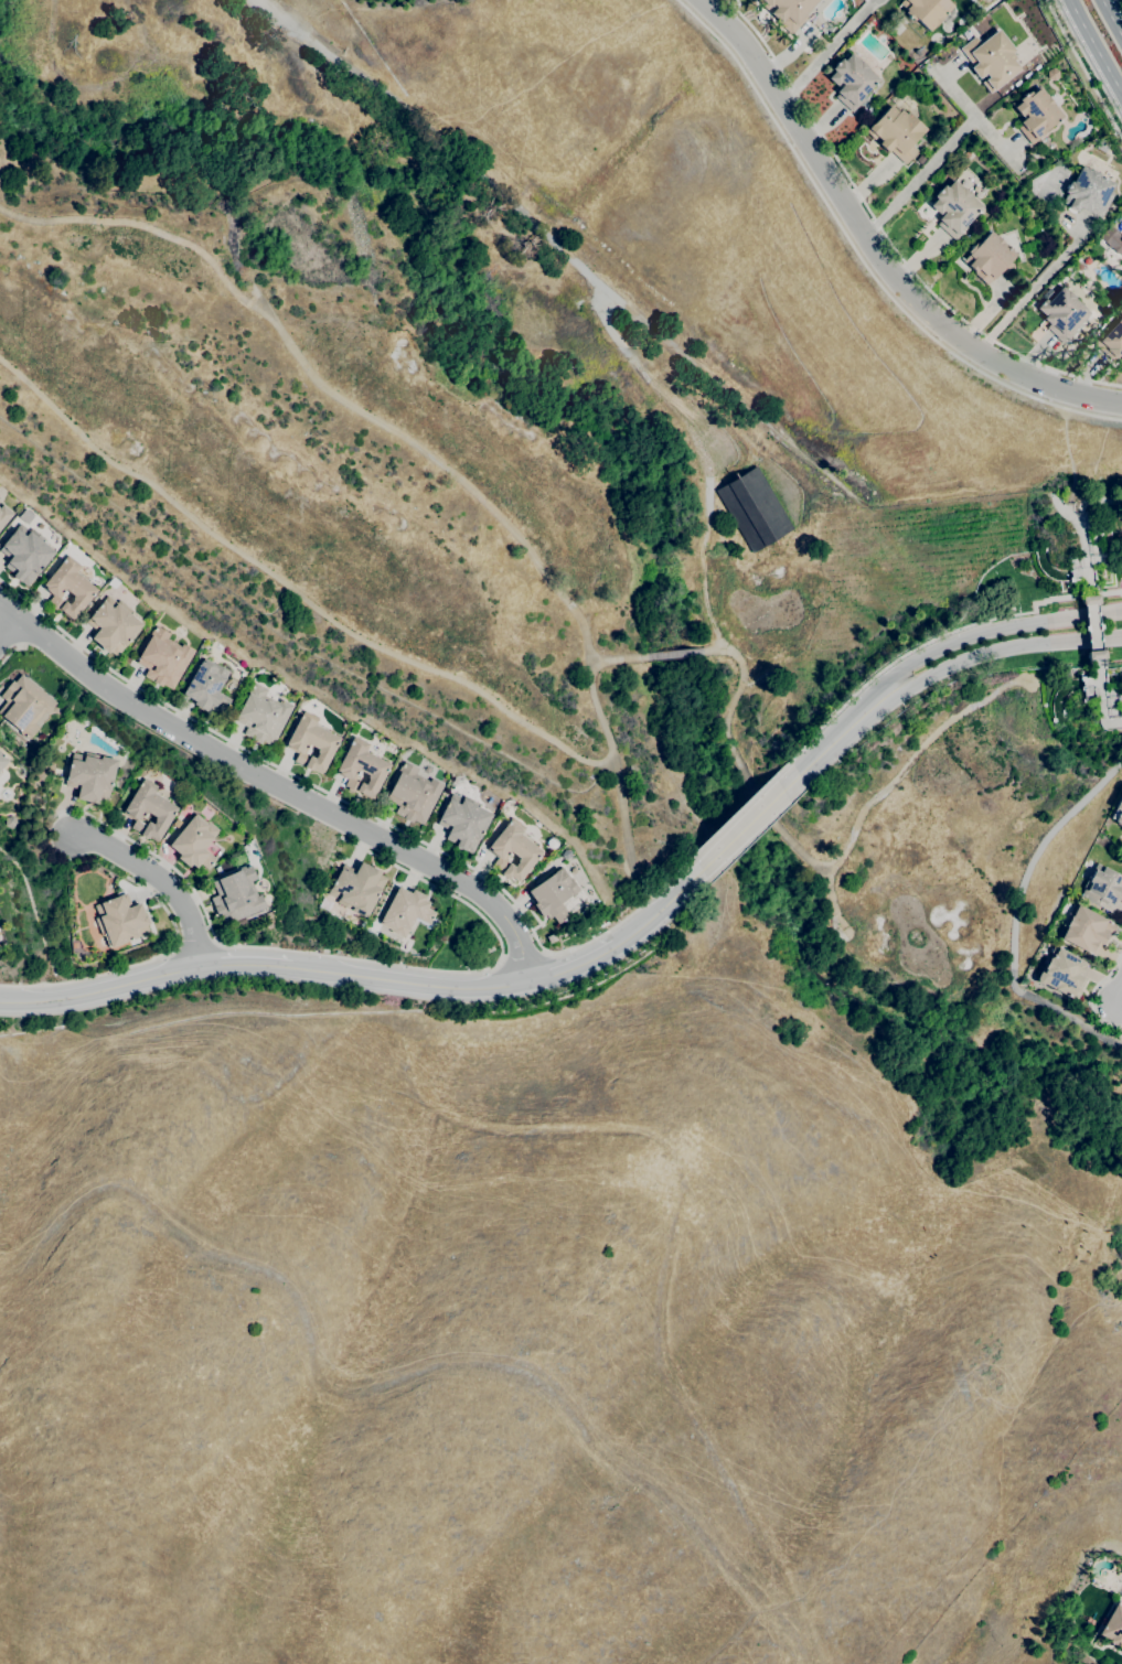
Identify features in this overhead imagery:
building: (926, 11)
building: (789, 12)
road: (1112, 17)
road: (291, 30)
building: (965, 33)
road: (1096, 47)
road: (826, 51)
building: (991, 60)
road: (1083, 69)
building: (1052, 74)
building: (851, 80)
building: (869, 111)
building: (1036, 115)
road: (973, 116)
building: (896, 132)
building: (1101, 146)
road: (918, 175)
building: (1088, 192)
building: (954, 208)
building: (1113, 235)
road: (885, 236)
road: (873, 248)
building: (989, 257)
road: (859, 258)
road: (576, 266)
building: (1062, 314)
building: (1111, 341)
building: (1121, 356)
road: (416, 445)
building: (754, 509)
building: (4, 515)
park: (533, 519)
road: (1082, 526)
building: (25, 554)
building: (113, 582)
building: (68, 588)
road: (290, 588)
road: (704, 595)
building: (1089, 595)
road: (1091, 624)
building: (113, 625)
road: (8, 630)
road: (992, 630)
road: (939, 638)
road: (998, 650)
road: (8, 654)
road: (674, 654)
building: (163, 658)
road: (619, 659)
building: (1096, 659)
building: (207, 687)
road: (1098, 701)
building: (312, 704)
building: (24, 705)
building: (261, 716)
road: (841, 734)
building: (311, 742)
building: (2, 761)
building: (361, 767)
building: (0, 772)
building: (90, 776)
road: (277, 782)
building: (413, 794)
road: (356, 808)
road: (741, 808)
building: (149, 809)
building: (1118, 810)
building: (10, 822)
building: (463, 822)
road: (750, 822)
building: (194, 842)
building: (513, 850)
road: (823, 869)
road: (157, 881)
building: (357, 887)
building: (1102, 888)
building: (553, 894)
building: (236, 895)
road: (661, 910)
building: (406, 911)
road: (1019, 920)
building: (120, 921)
building: (1086, 930)
building: (563, 933)
building: (551, 938)
road: (194, 941)
building: (489, 948)
road: (523, 956)
road: (354, 959)
road: (132, 963)
road: (573, 963)
road: (244, 964)
building: (1061, 973)
road: (409, 981)
road: (100, 990)
road: (1091, 995)
road: (1120, 999)
road: (1120, 1020)
building: (1121, 1596)
building: (1113, 1627)

